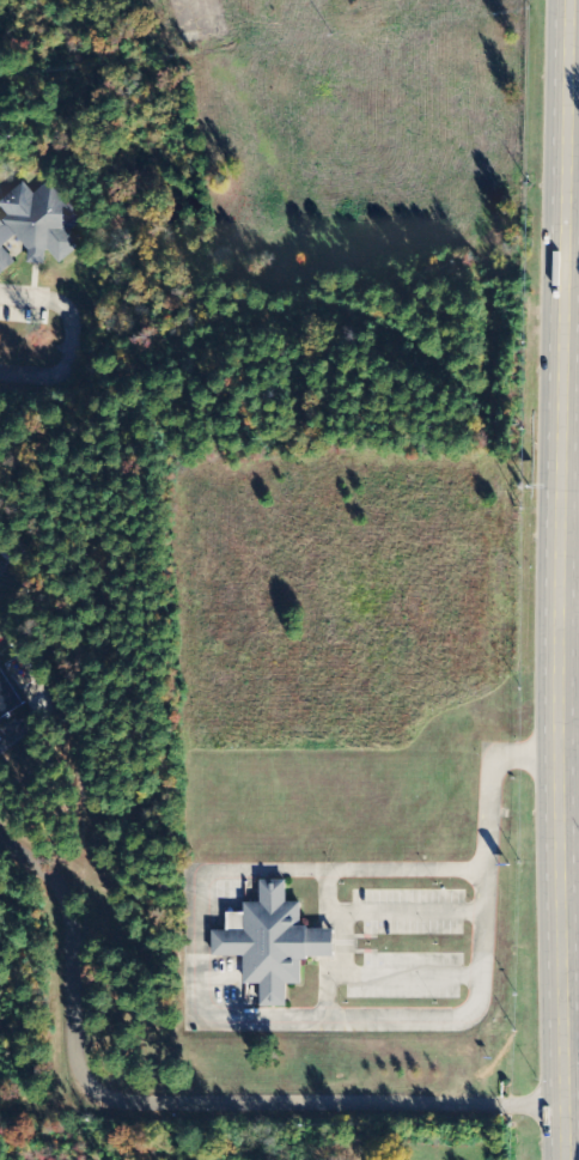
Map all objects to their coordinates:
road: (567, 174)
building: (38, 225)
building: (8, 697)
road: (566, 753)
building: (274, 942)
road: (183, 1103)

